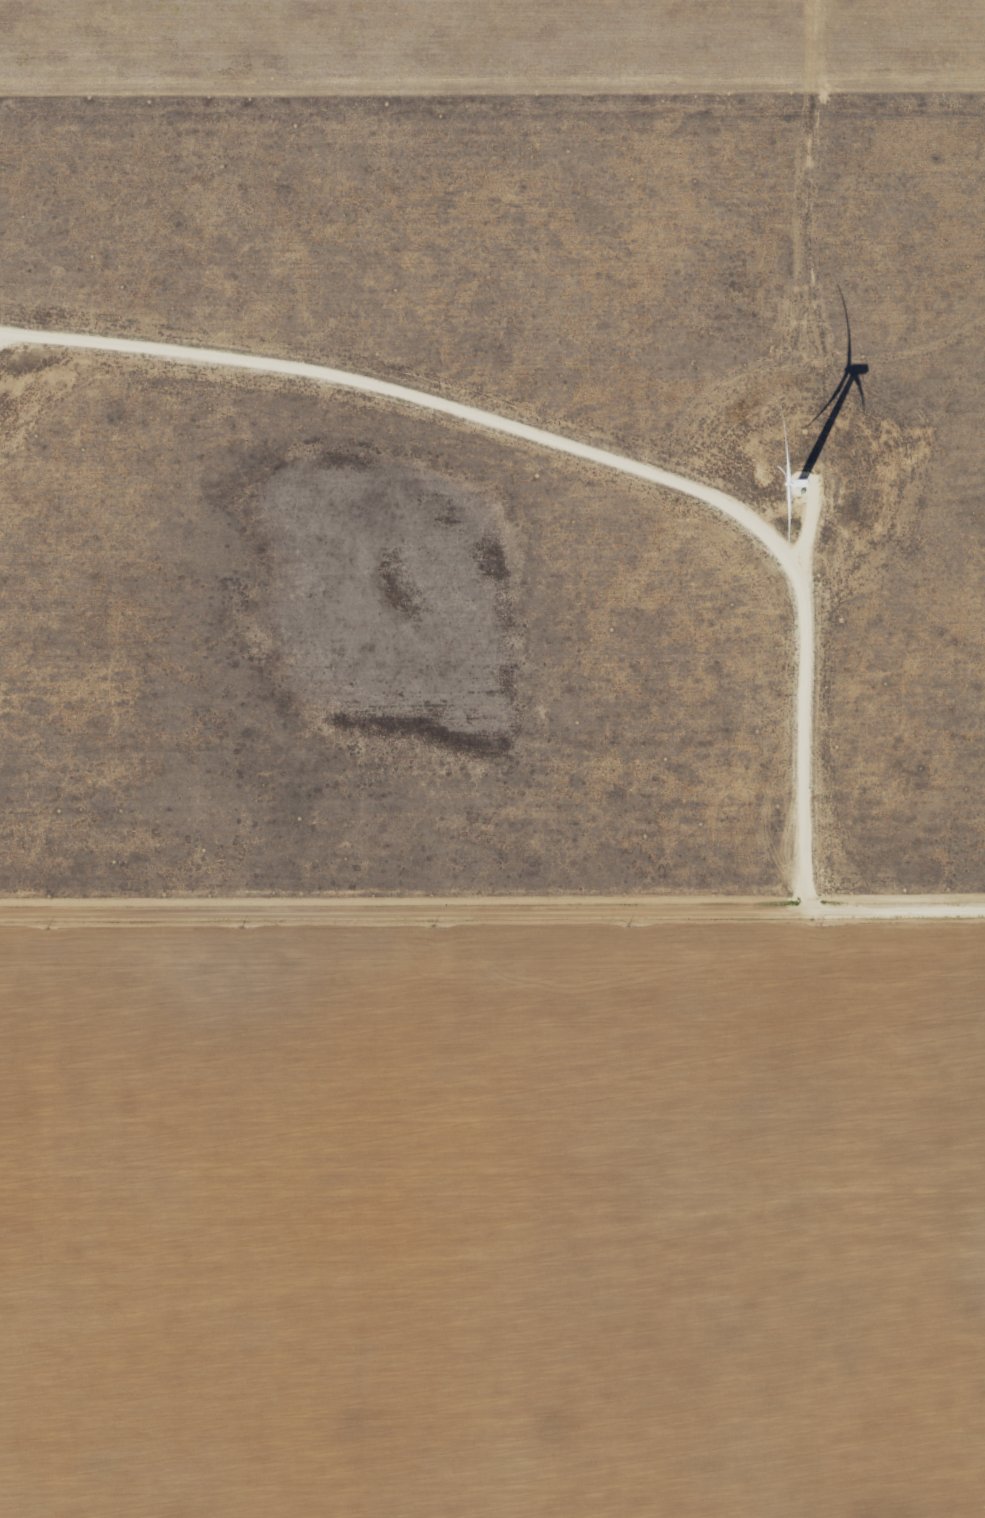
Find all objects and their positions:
road: (2, 333)
road: (578, 449)
wind turbine: (798, 487)
road: (806, 530)
road: (492, 909)

